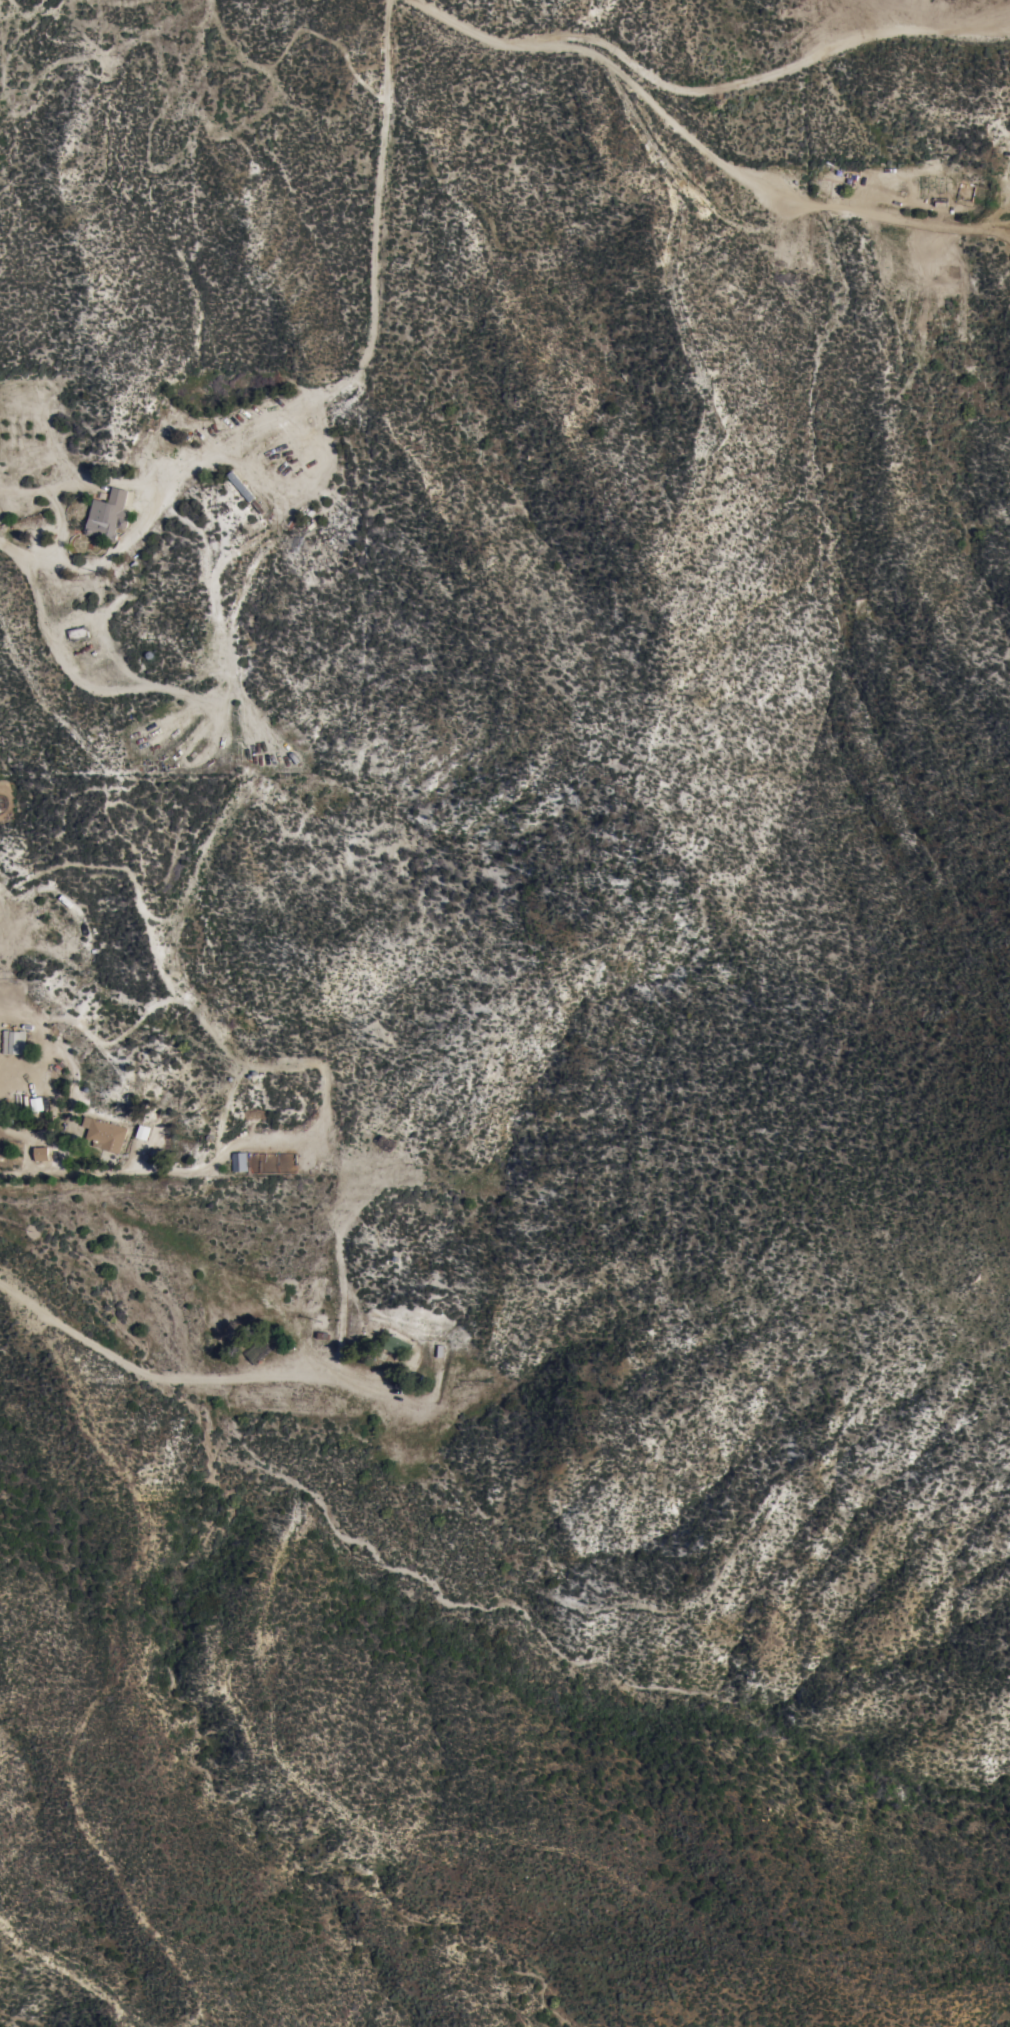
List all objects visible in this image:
road: (715, 89)
road: (747, 177)
road: (367, 346)
building: (241, 486)
building: (108, 516)
building: (79, 634)
road: (67, 673)
building: (106, 1136)
building: (386, 1143)
building: (41, 1154)
building: (239, 1162)
road: (65, 1330)
road: (339, 1357)

